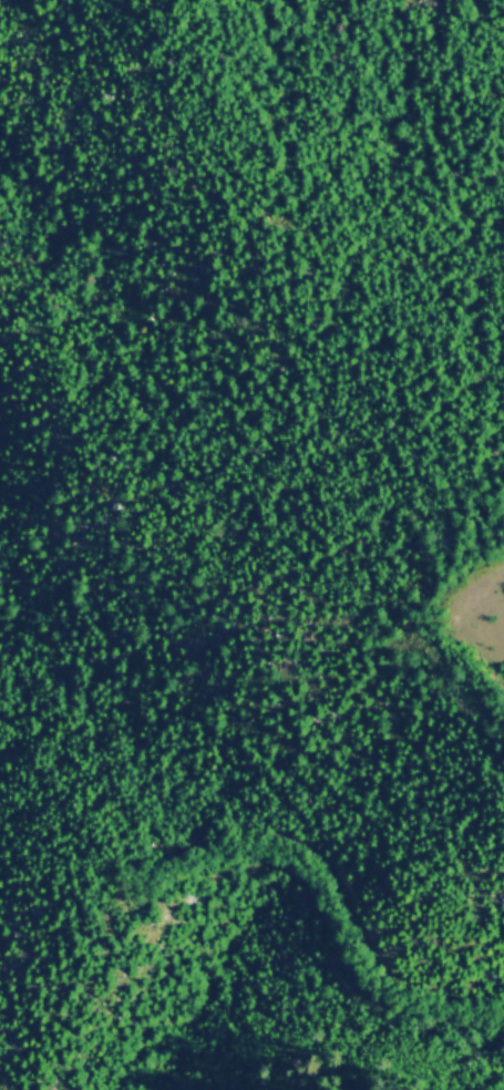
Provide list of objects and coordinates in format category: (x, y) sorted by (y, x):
road: (486, 609)
road: (337, 891)

